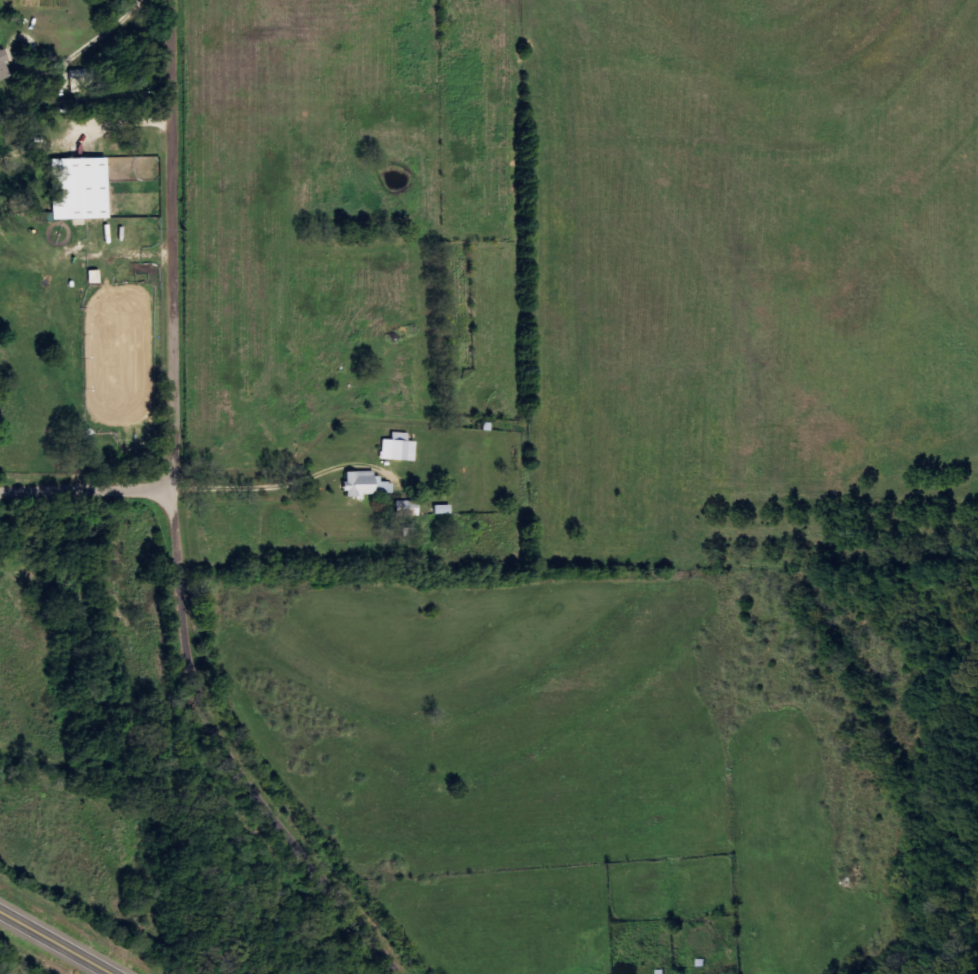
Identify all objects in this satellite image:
building: (4, 64)
building: (81, 83)
building: (81, 188)
road: (180, 244)
building: (400, 448)
building: (368, 484)
road: (90, 489)
building: (408, 508)
road: (261, 582)
road: (236, 755)
road: (62, 939)

